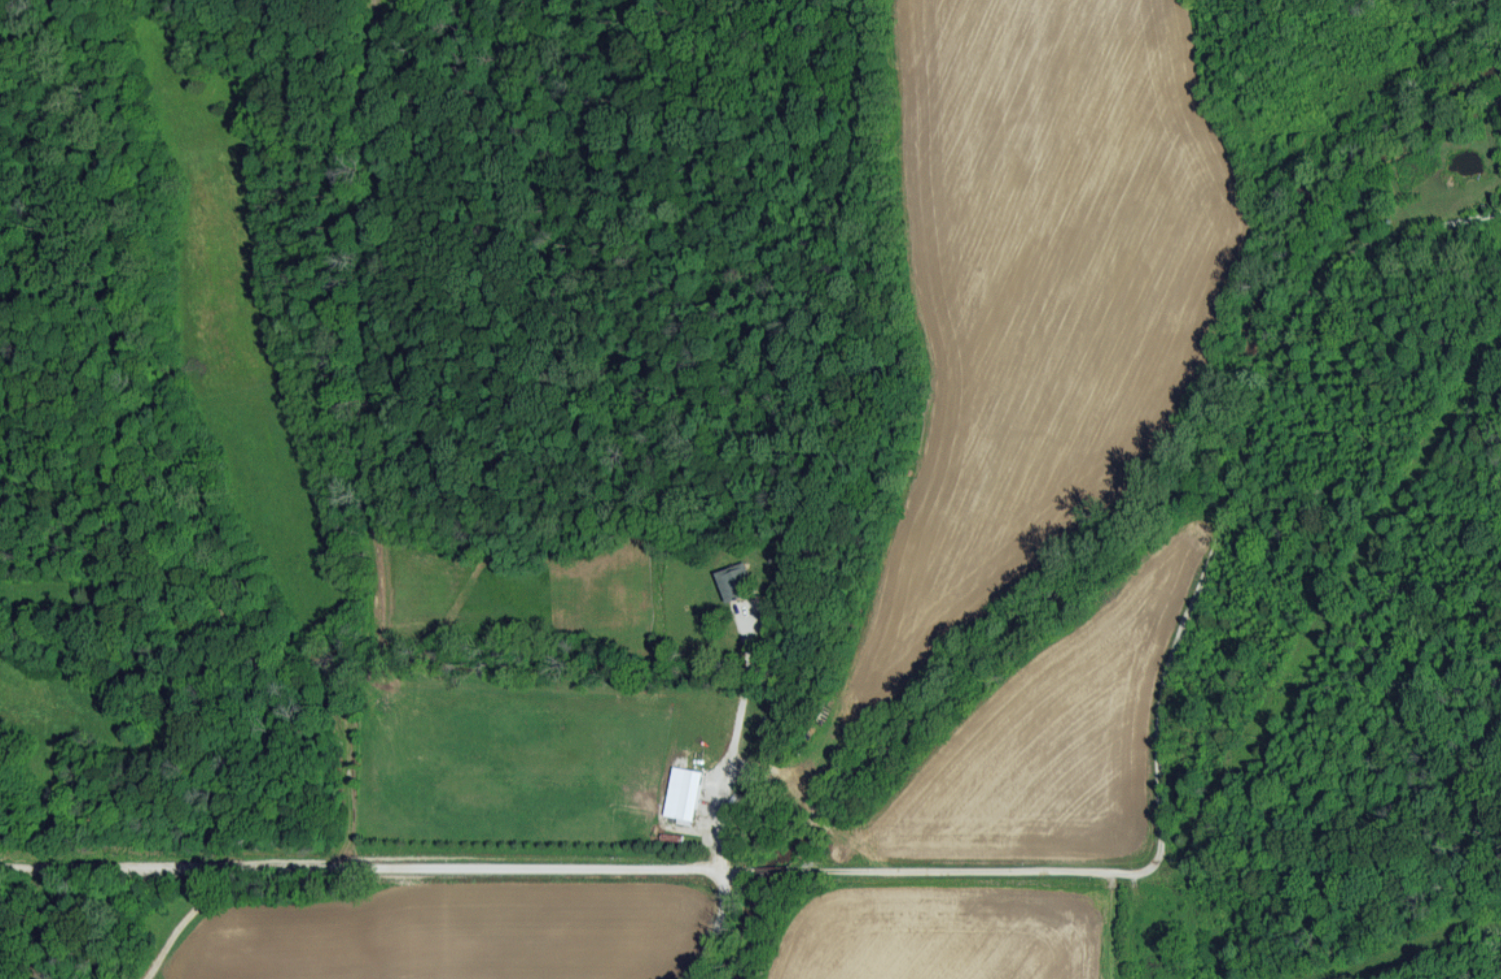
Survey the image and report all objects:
building: (735, 580)
road: (714, 743)
building: (686, 794)
road: (751, 867)
road: (720, 926)

